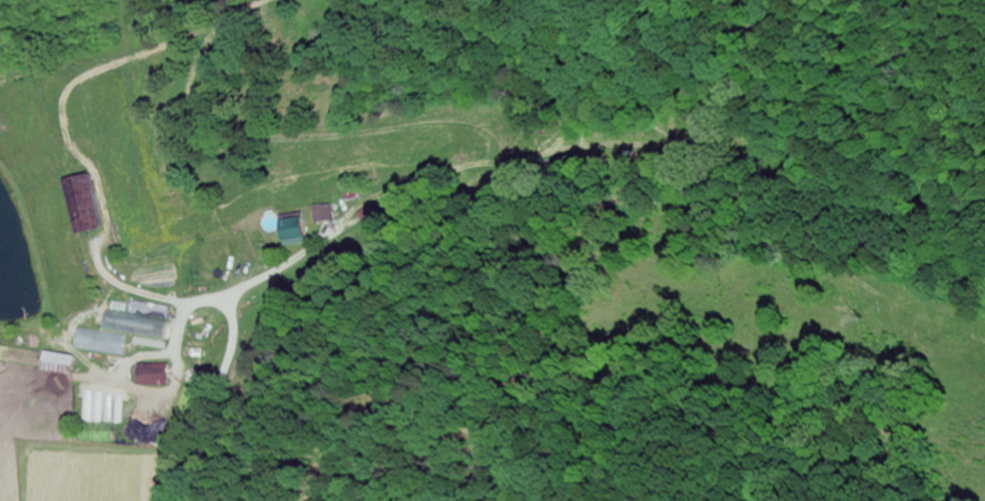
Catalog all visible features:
building: (83, 205)
building: (324, 214)
building: (371, 215)
building: (291, 231)
building: (149, 311)
building: (80, 331)
building: (85, 355)
building: (149, 376)
road: (212, 400)

